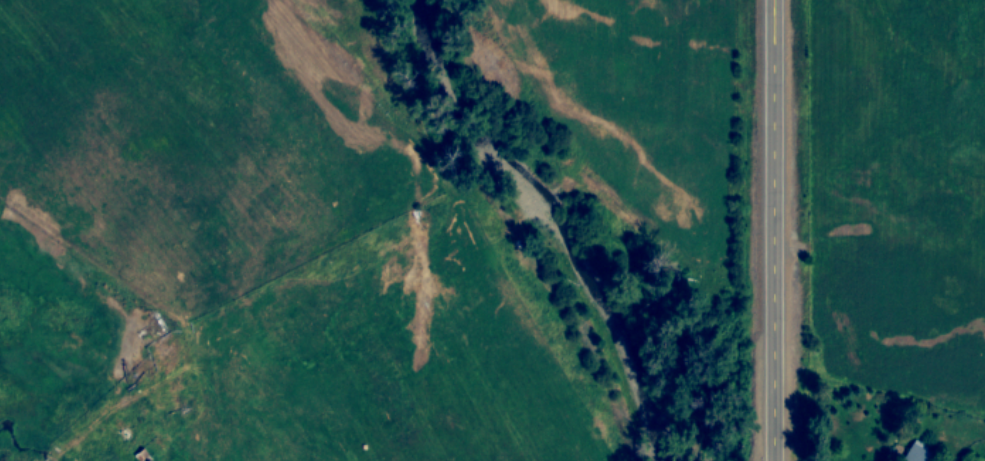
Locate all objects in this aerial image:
road: (776, 230)
building: (916, 452)
building: (142, 455)

